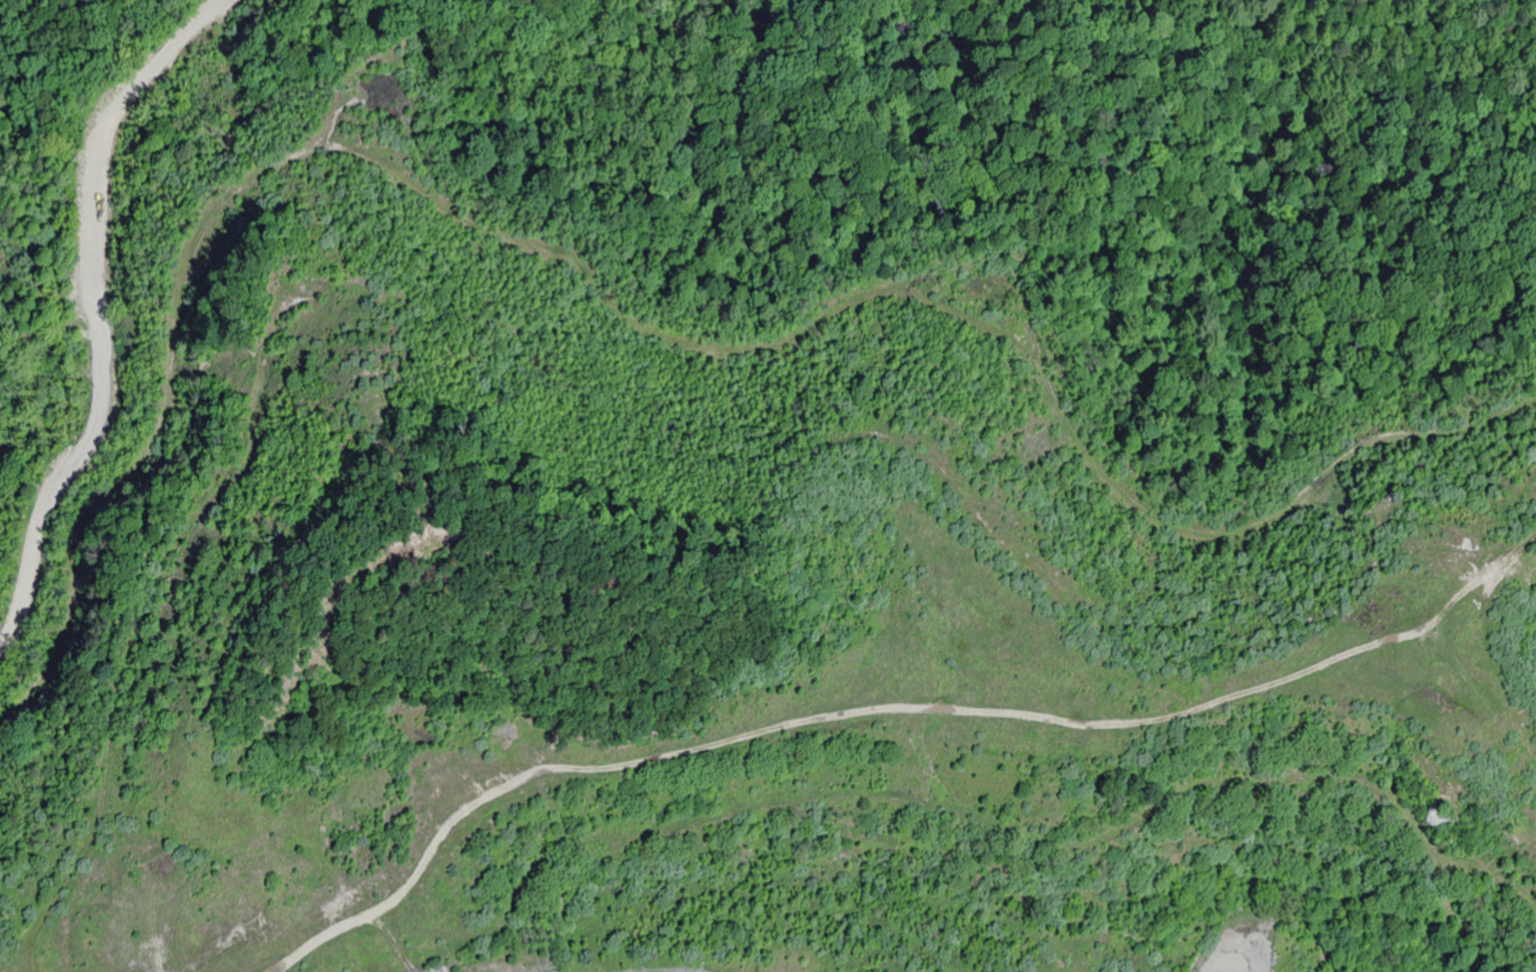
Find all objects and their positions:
road: (90, 151)
quarry: (956, 747)

